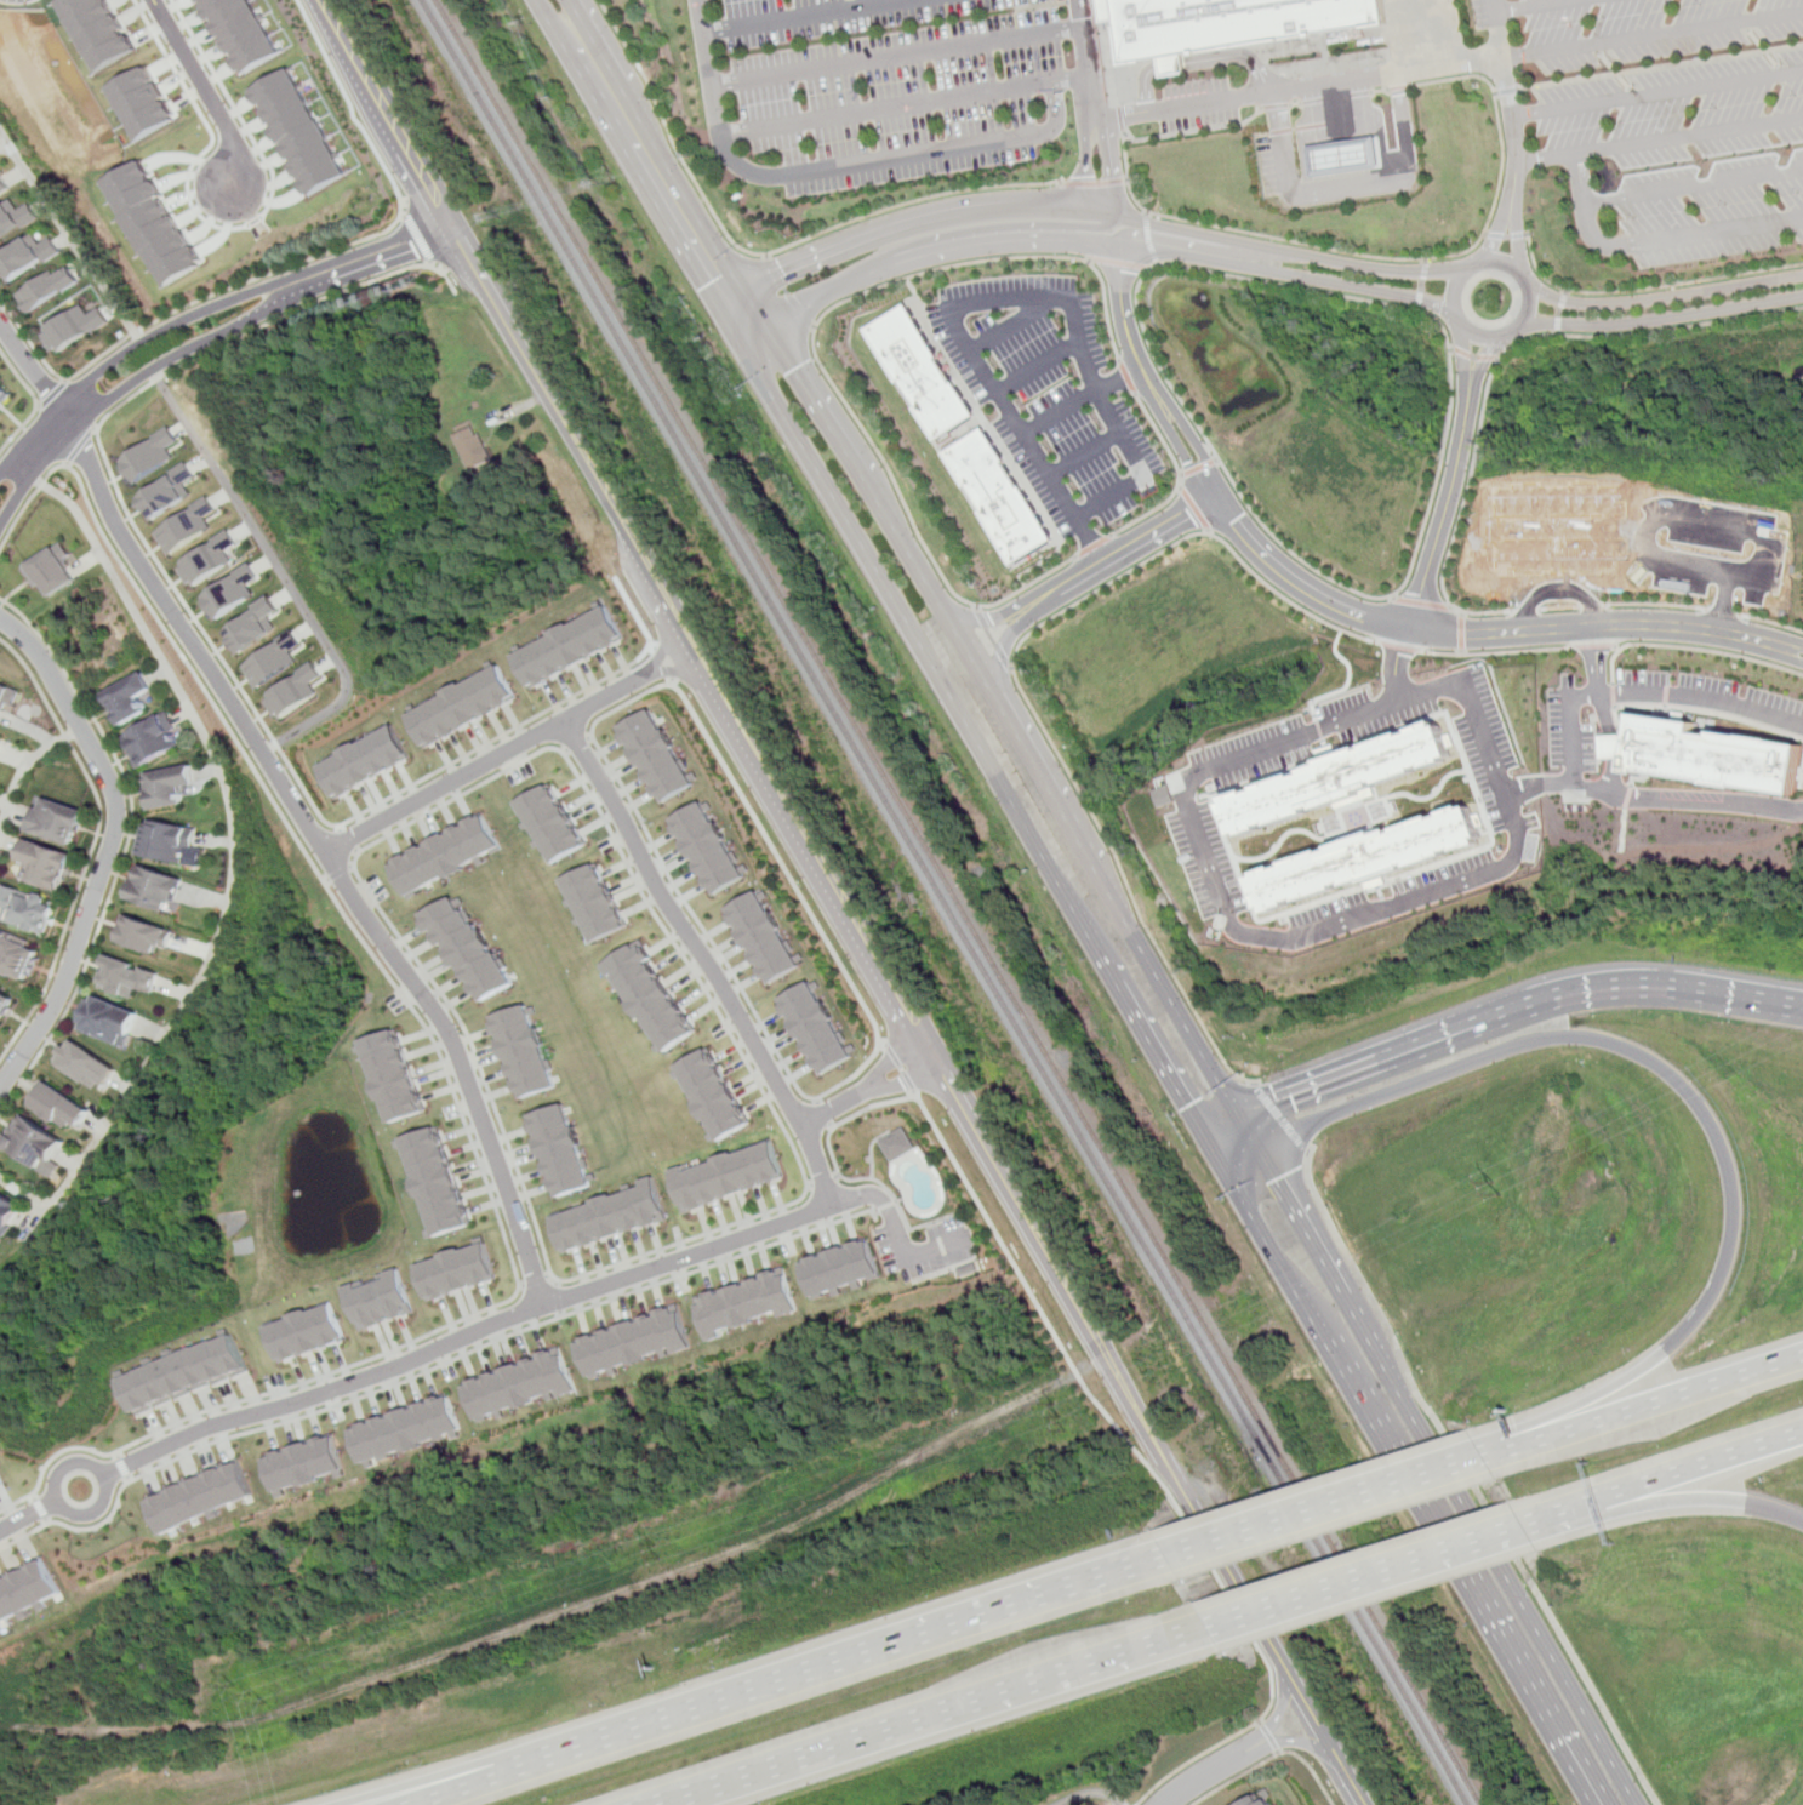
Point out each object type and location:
road: (324, 2)
road: (1534, 6)
road: (806, 16)
building: (1228, 19)
building: (101, 29)
building: (241, 32)
road: (1445, 33)
road: (1653, 34)
road: (1757, 47)
road: (898, 58)
road: (1204, 59)
road: (1089, 62)
road: (1662, 65)
road: (709, 67)
road: (175, 68)
road: (1614, 70)
road: (1505, 82)
road: (201, 85)
parking lot: (895, 85)
road: (1300, 88)
road: (1508, 88)
road: (1656, 95)
building: (142, 102)
parking lot: (1203, 103)
road: (905, 104)
road: (233, 105)
road: (352, 107)
road: (386, 113)
parking lot: (1670, 118)
road: (1199, 131)
building: (298, 132)
road: (1659, 139)
road: (5, 149)
building: (1346, 155)
gas station: (1346, 155)
road: (902, 156)
road: (632, 161)
road: (668, 162)
road: (1090, 167)
road: (1112, 167)
road: (1131, 175)
road: (1696, 181)
road: (1099, 182)
building: (4, 185)
road: (1354, 189)
road: (1591, 209)
road: (1080, 212)
road: (1502, 212)
building: (16, 216)
road: (1517, 219)
building: (153, 222)
road: (1021, 224)
road: (1713, 234)
road: (69, 235)
road: (420, 236)
road: (1507, 236)
road: (1088, 239)
road: (1153, 239)
road: (1202, 244)
road: (766, 253)
building: (28, 257)
road: (1440, 257)
road: (1122, 262)
road: (1425, 268)
traffic signals: (784, 270)
traffic signals: (707, 286)
road: (1423, 286)
building: (49, 287)
road: (232, 287)
road: (1647, 289)
road: (788, 292)
road: (1666, 297)
road: (1055, 299)
road: (1420, 301)
road: (841, 303)
road: (202, 310)
road: (1560, 310)
road: (1659, 319)
road: (1445, 325)
building: (72, 327)
road: (1010, 327)
road: (1648, 330)
road: (1494, 339)
road: (28, 342)
road: (201, 342)
road: (520, 342)
road: (1474, 355)
traffic signals: (799, 367)
road: (1039, 367)
road: (1467, 371)
building: (922, 375)
road: (1480, 375)
road: (1128, 377)
road: (19, 378)
building: (4, 392)
road: (52, 393)
parking lot: (1049, 393)
road: (1082, 400)
road: (93, 428)
road: (19, 430)
road: (840, 436)
road: (1023, 439)
road: (997, 440)
road: (79, 445)
building: (472, 445)
road: (104, 456)
building: (149, 456)
road: (1083, 456)
road: (65, 464)
road: (1198, 468)
road: (1141, 469)
road: (1176, 478)
building: (167, 492)
road: (610, 496)
building: (999, 497)
road: (1192, 508)
road: (1665, 510)
road: (1462, 512)
road: (1443, 522)
building: (187, 526)
building: (1559, 530)
road: (1092, 546)
road: (1123, 549)
building: (209, 559)
building: (49, 571)
road: (283, 573)
road: (1027, 584)
road: (1557, 588)
building: (232, 592)
road: (1393, 596)
road: (1423, 602)
road: (896, 604)
road: (1656, 604)
road: (1594, 605)
road: (1562, 607)
road: (1525, 609)
road: (1722, 611)
road: (637, 612)
road: (1060, 613)
road: (1352, 615)
road: (987, 617)
road: (949, 622)
road: (1771, 622)
building: (253, 626)
road: (1462, 630)
road: (992, 639)
road: (1005, 645)
building: (570, 646)
road: (1592, 646)
road: (1617, 646)
road: (1694, 647)
road: (1462, 652)
building: (274, 659)
road: (667, 662)
road: (1599, 675)
building: (295, 691)
road: (1614, 695)
parking lot: (1712, 697)
building: (5, 699)
building: (129, 701)
road: (629, 703)
building: (463, 706)
road: (1710, 713)
parking lot: (1570, 729)
road: (1570, 738)
road: (497, 739)
building: (2, 741)
building: (153, 742)
road: (577, 743)
road: (1611, 746)
road: (509, 750)
building: (656, 754)
building: (1711, 755)
building: (365, 760)
road: (24, 772)
road: (1636, 777)
building: (1339, 778)
road: (1611, 779)
road: (1540, 783)
parking lot: (1802, 783)
road: (772, 786)
building: (169, 787)
building: (1165, 795)
road: (1625, 796)
road: (293, 802)
road: (1060, 809)
building: (63, 822)
building: (550, 822)
building: (171, 841)
road: (350, 841)
road: (93, 846)
building: (706, 847)
road: (1718, 847)
road: (110, 849)
road: (126, 849)
road: (238, 850)
building: (447, 855)
building: (1366, 858)
building: (51, 867)
road: (356, 867)
road: (342, 872)
building: (160, 889)
road: (801, 898)
building: (590, 902)
railway: (945, 902)
railway: (958, 902)
building: (32, 910)
road: (1350, 920)
road: (696, 923)
building: (147, 933)
building: (761, 936)
building: (468, 947)
building: (18, 956)
building: (129, 976)
building: (645, 996)
building: (5, 1001)
road: (1514, 1016)
road: (1137, 1019)
road: (1183, 1022)
building: (116, 1023)
building: (814, 1027)
road: (881, 1044)
building: (523, 1050)
road: (891, 1057)
building: (87, 1064)
road: (446, 1066)
road: (901, 1069)
building: (395, 1075)
road: (906, 1080)
building: (709, 1093)
traffic signals: (1278, 1101)
road: (1701, 1101)
road: (833, 1106)
traffic signals: (1187, 1106)
building: (58, 1107)
road: (822, 1114)
road: (1280, 1116)
road: (1248, 1132)
road: (1227, 1135)
building: (896, 1144)
building: (38, 1146)
road: (1234, 1148)
building: (558, 1149)
road: (872, 1150)
road: (992, 1154)
building: (725, 1176)
road: (840, 1177)
building: (438, 1181)
traffic signals: (1276, 1181)
road: (821, 1182)
power tower: (1496, 1188)
road: (884, 1205)
road: (1246, 1207)
building: (8, 1217)
building: (610, 1217)
road: (895, 1234)
road: (725, 1241)
road: (938, 1246)
road: (1314, 1247)
building: (840, 1267)
building: (461, 1270)
road: (942, 1272)
road: (538, 1281)
building: (384, 1298)
road: (561, 1300)
building: (748, 1303)
building: (308, 1332)
building: (638, 1341)
road: (428, 1371)
building: (187, 1373)
building: (520, 1383)
road: (1085, 1384)
road: (1651, 1406)
power tower: (1060, 1413)
building: (405, 1428)
building: (308, 1466)
road: (129, 1467)
road: (1172, 1467)
road: (63, 1473)
building: (2, 1476)
road: (1670, 1476)
road: (1473, 1481)
building: (204, 1496)
road: (1670, 1501)
road: (1336, 1508)
road: (42, 1509)
road: (29, 1515)
road: (1436, 1533)
power tower: (656, 1550)
road: (1374, 1571)
road: (1505, 1577)
building: (24, 1588)
road: (788, 1684)
power tower: (252, 1693)
road: (1312, 1709)
road: (934, 1714)
road: (1278, 1717)
road: (1269, 1736)
road: (1289, 1741)
road: (1222, 1743)
road: (1271, 1757)
road: (1200, 1777)
road: (1352, 1778)
road: (452, 1782)
road: (1089, 1793)
building: (1256, 1800)

